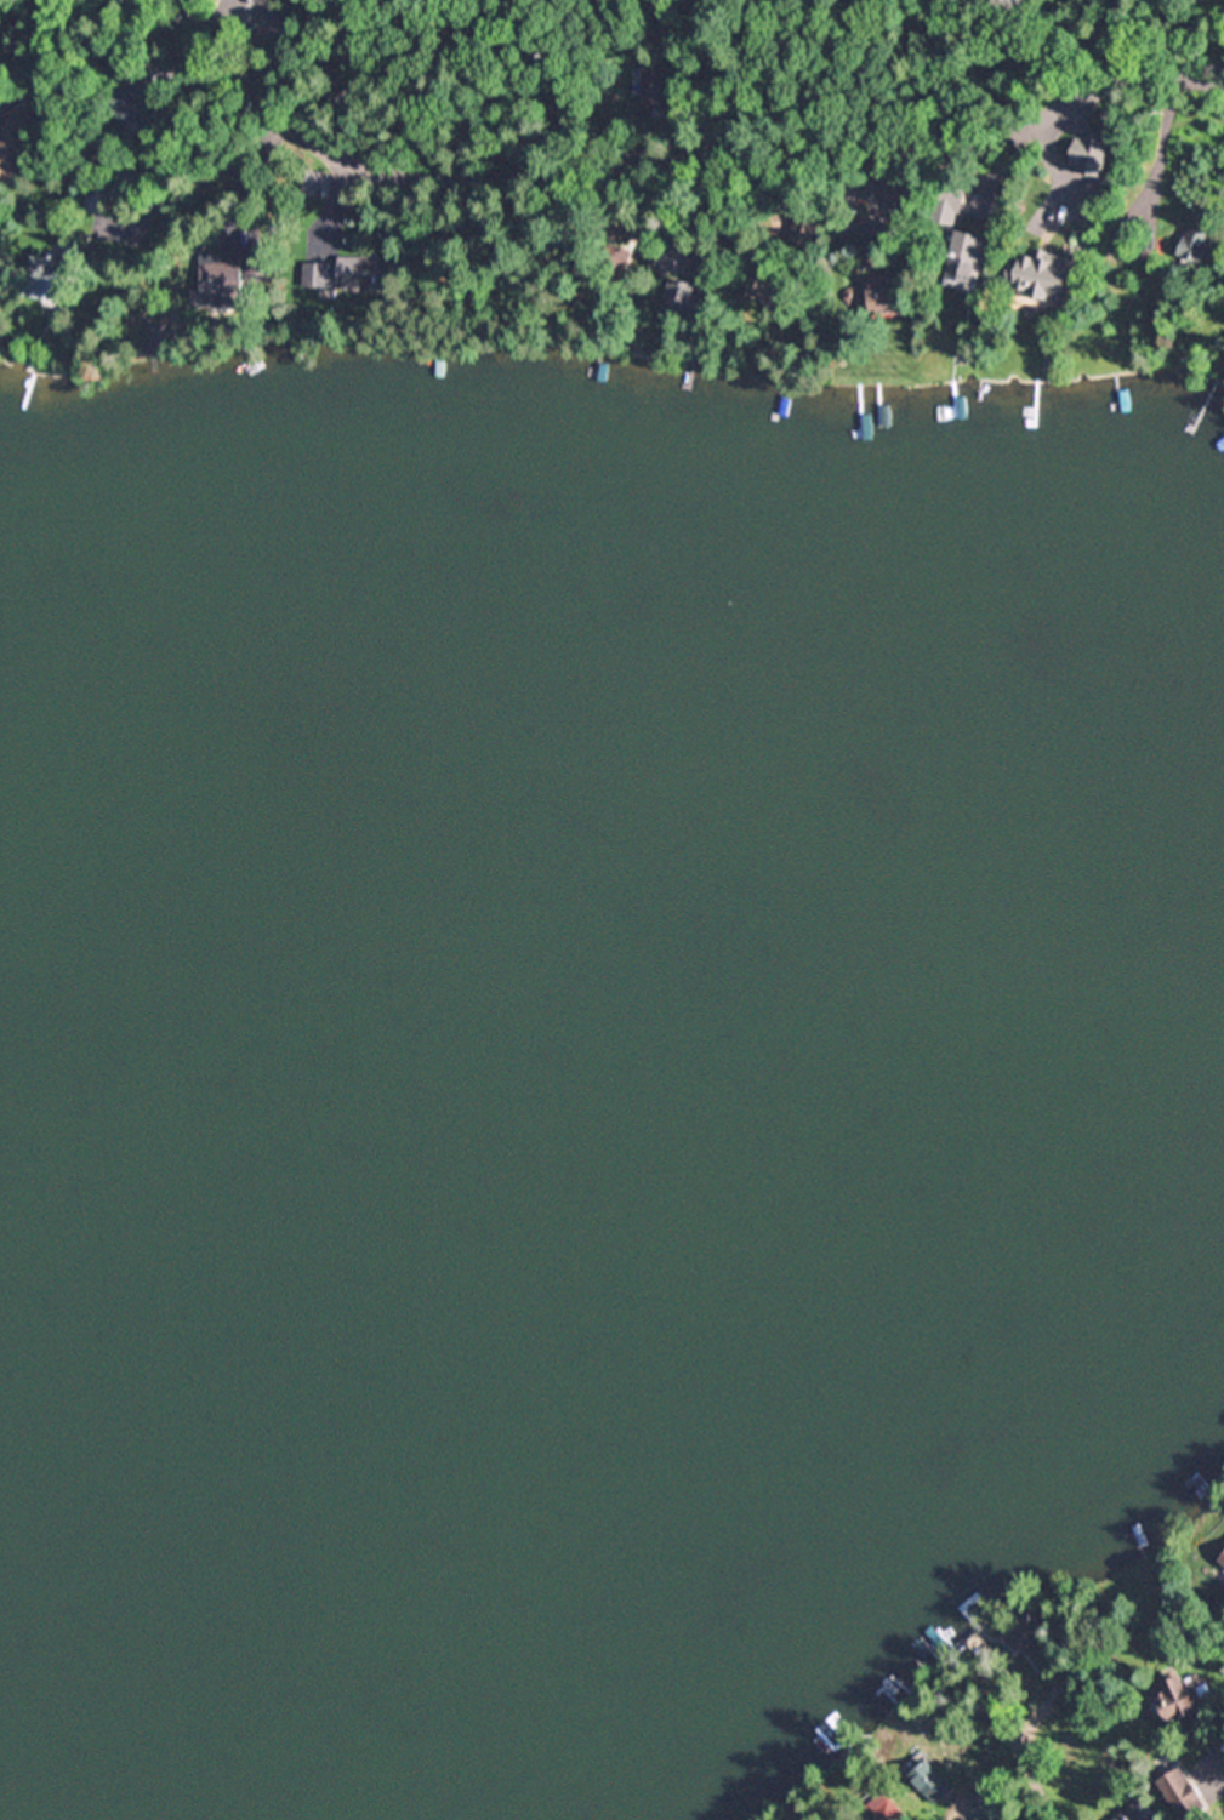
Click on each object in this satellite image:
building: (261, 1)
road: (40, 38)
building: (659, 89)
building: (141, 105)
building: (725, 110)
building: (17, 133)
building: (1094, 152)
road: (672, 170)
building: (315, 184)
building: (129, 187)
building: (869, 193)
building: (907, 194)
building: (99, 200)
building: (950, 201)
building: (810, 223)
building: (1195, 244)
building: (671, 252)
building: (881, 252)
building: (969, 257)
building: (1049, 272)
building: (56, 274)
building: (234, 274)
building: (358, 274)
building: (772, 291)
building: (887, 296)
building: (681, 298)
building: (159, 340)
building: (1223, 369)
building: (1223, 1562)
building: (1034, 1632)
building: (1183, 1698)
building: (935, 1719)
road: (1172, 1742)
road: (1223, 1765)
building: (933, 1782)
building: (1189, 1791)
road: (986, 1805)
building: (888, 1808)
building: (1143, 1812)

